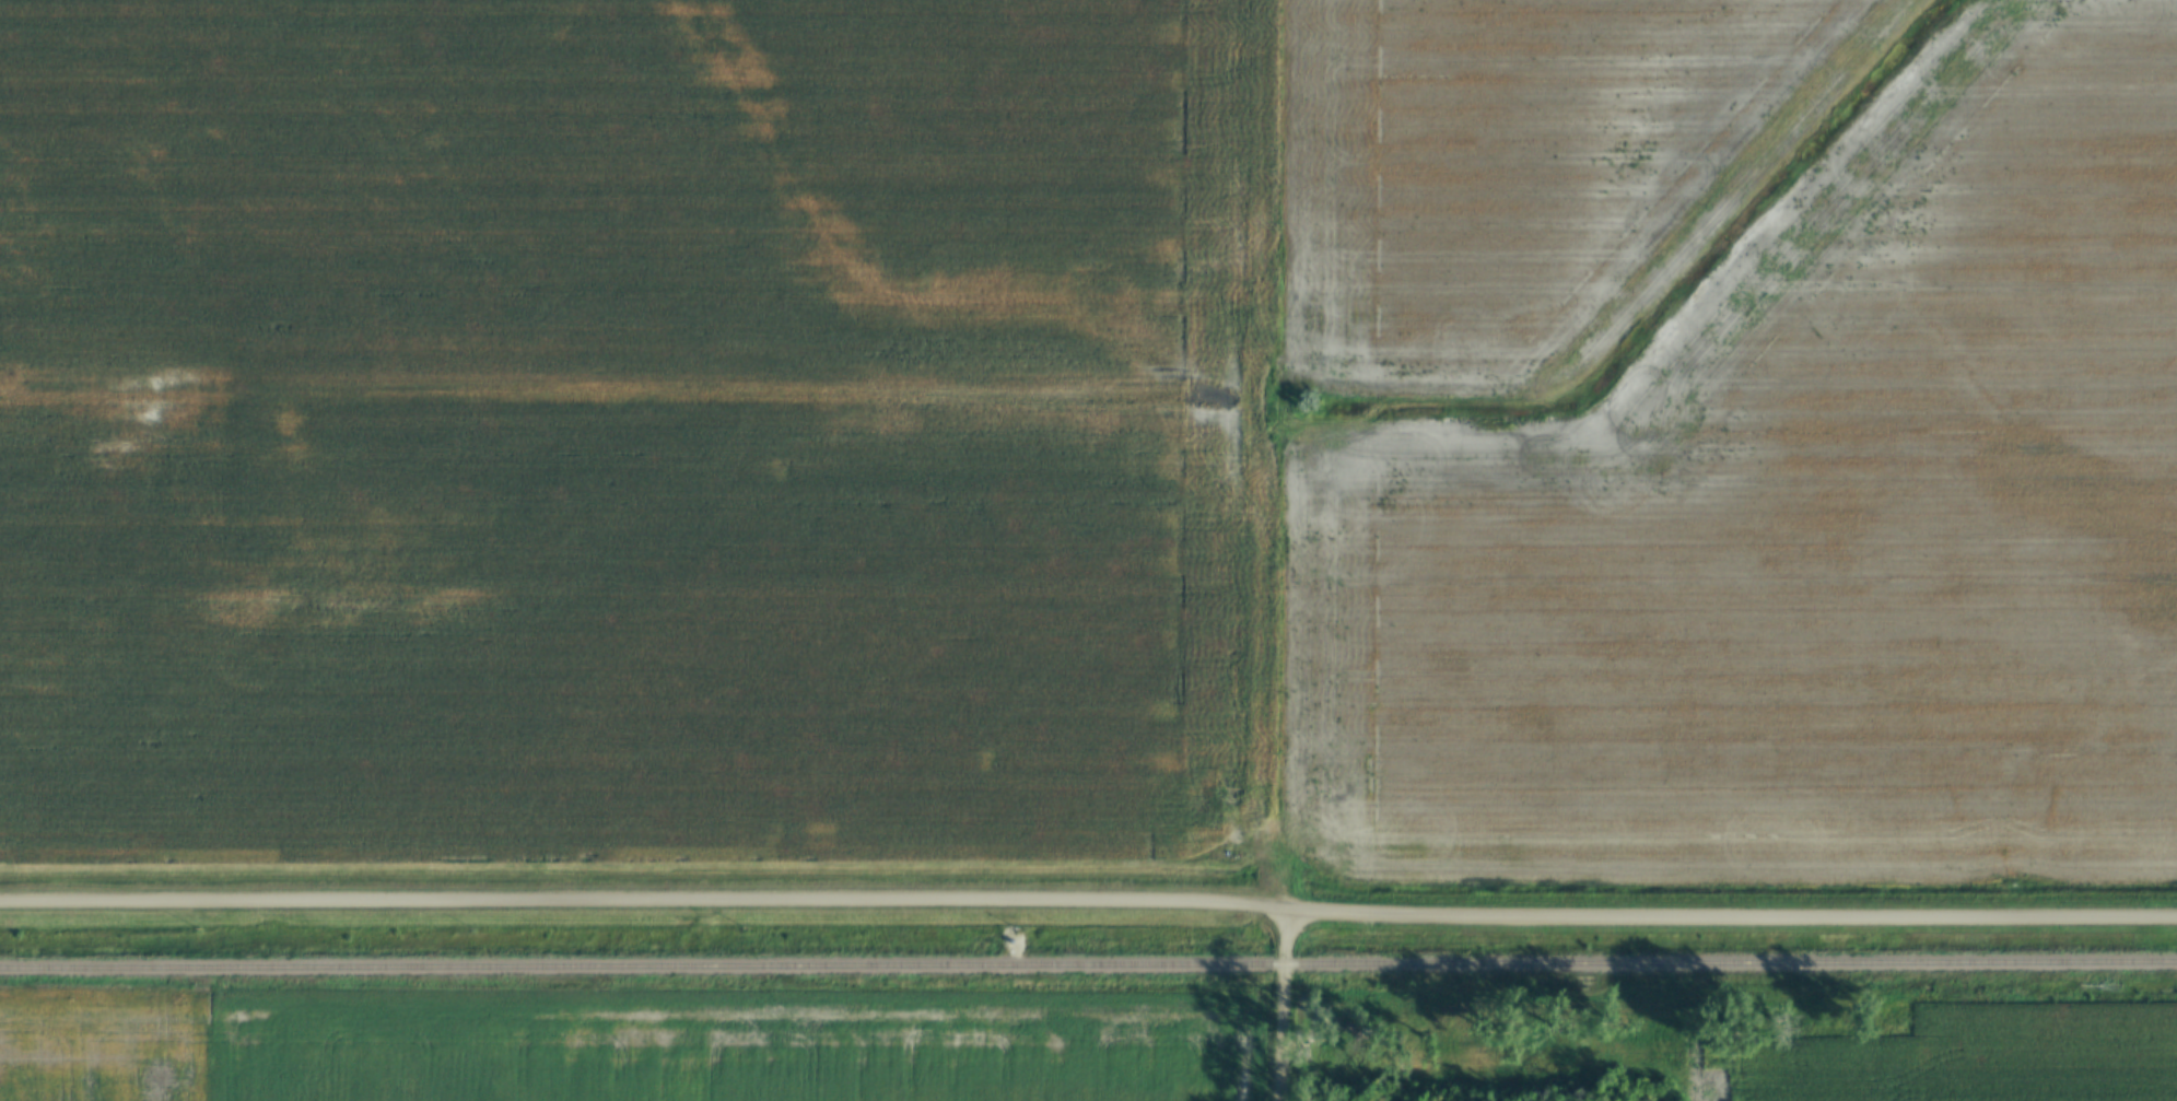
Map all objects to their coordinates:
road: (1088, 898)
railway: (1088, 965)
road: (1281, 1004)

